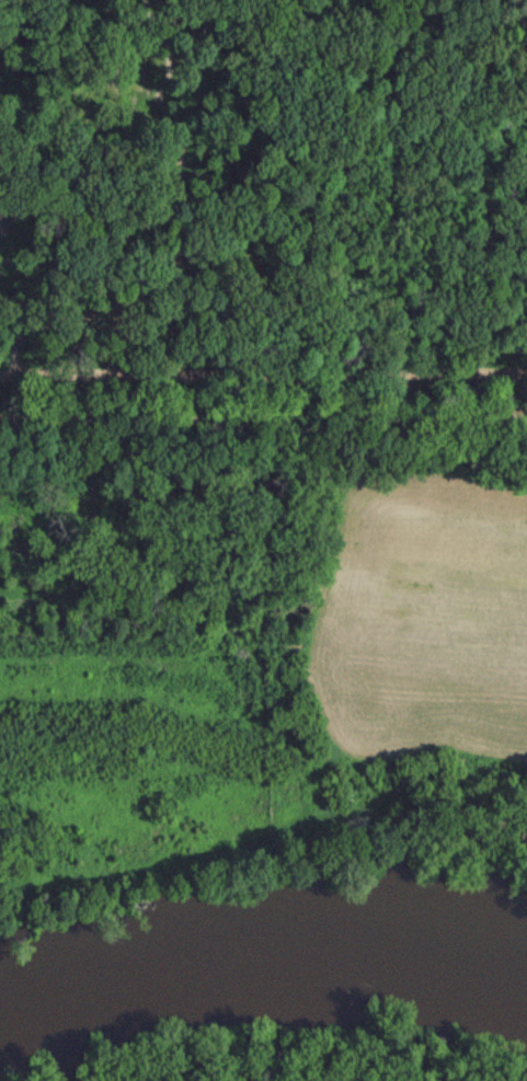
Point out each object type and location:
road: (263, 378)
road: (263, 430)
river: (263, 963)

